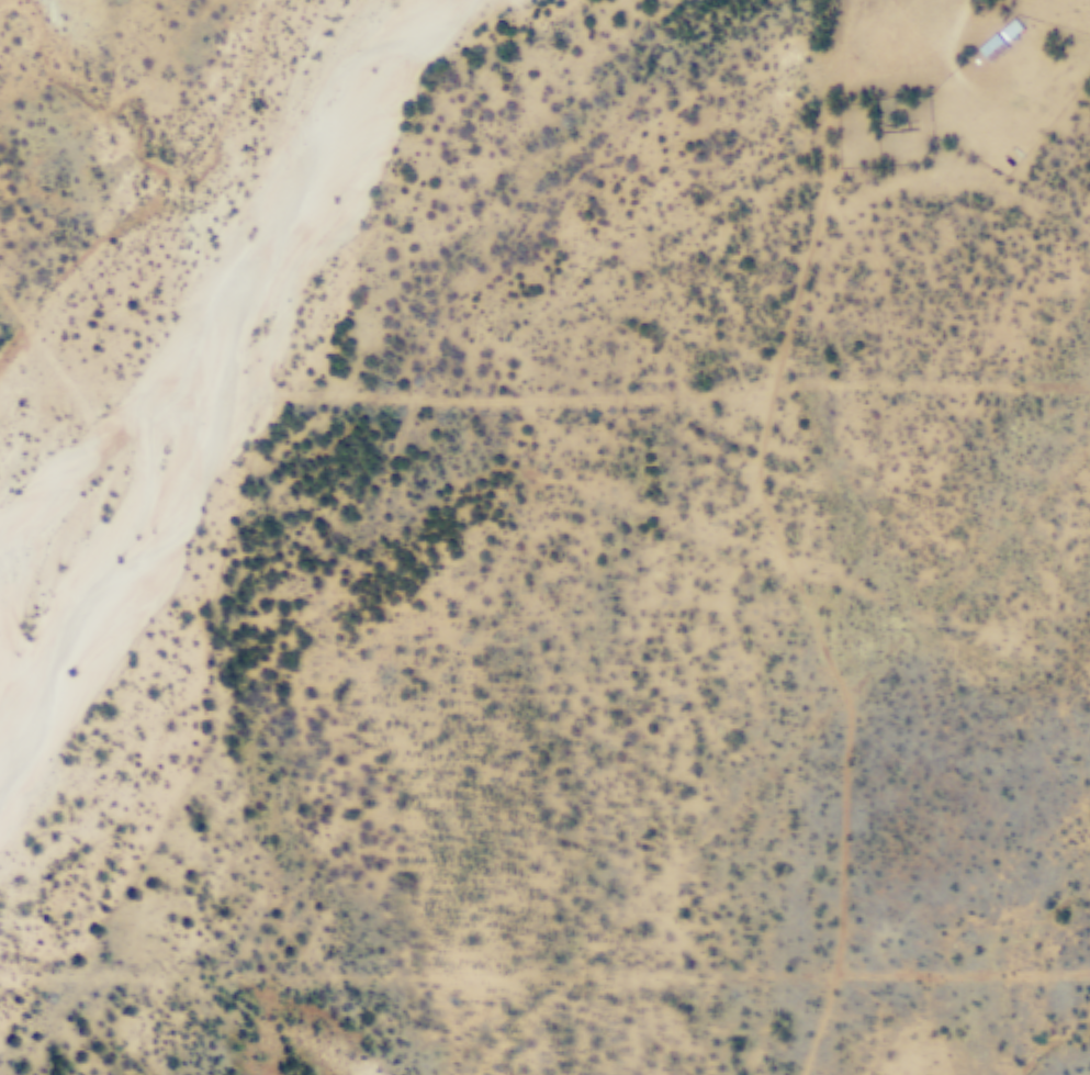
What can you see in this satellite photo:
building: (999, 40)

